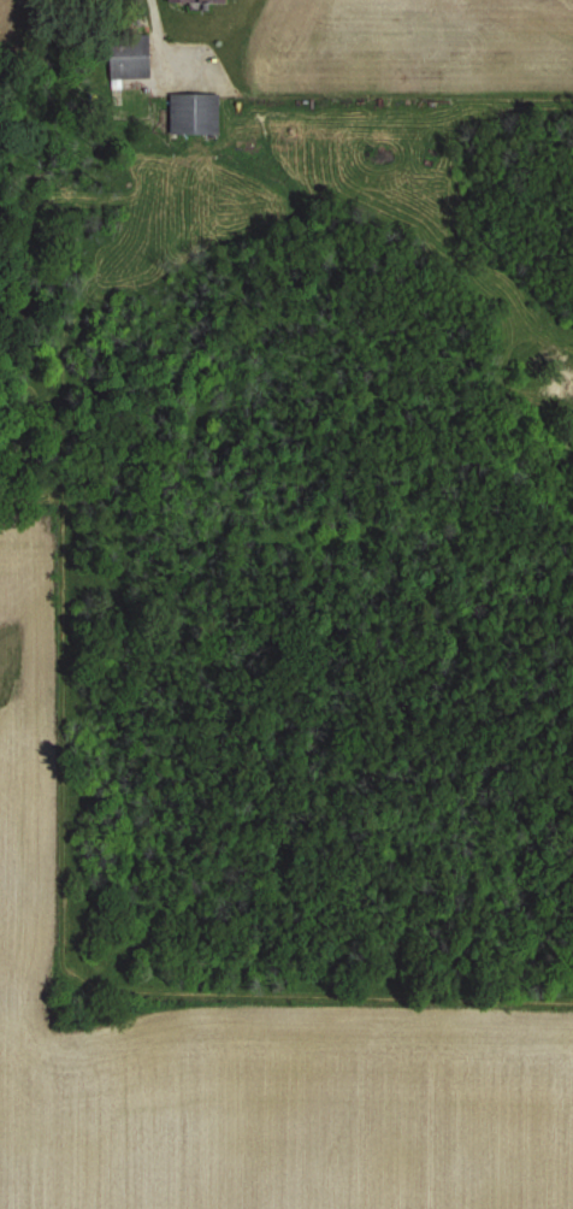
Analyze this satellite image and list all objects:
building: (196, 0)
road: (154, 26)
building: (129, 55)
building: (194, 112)

